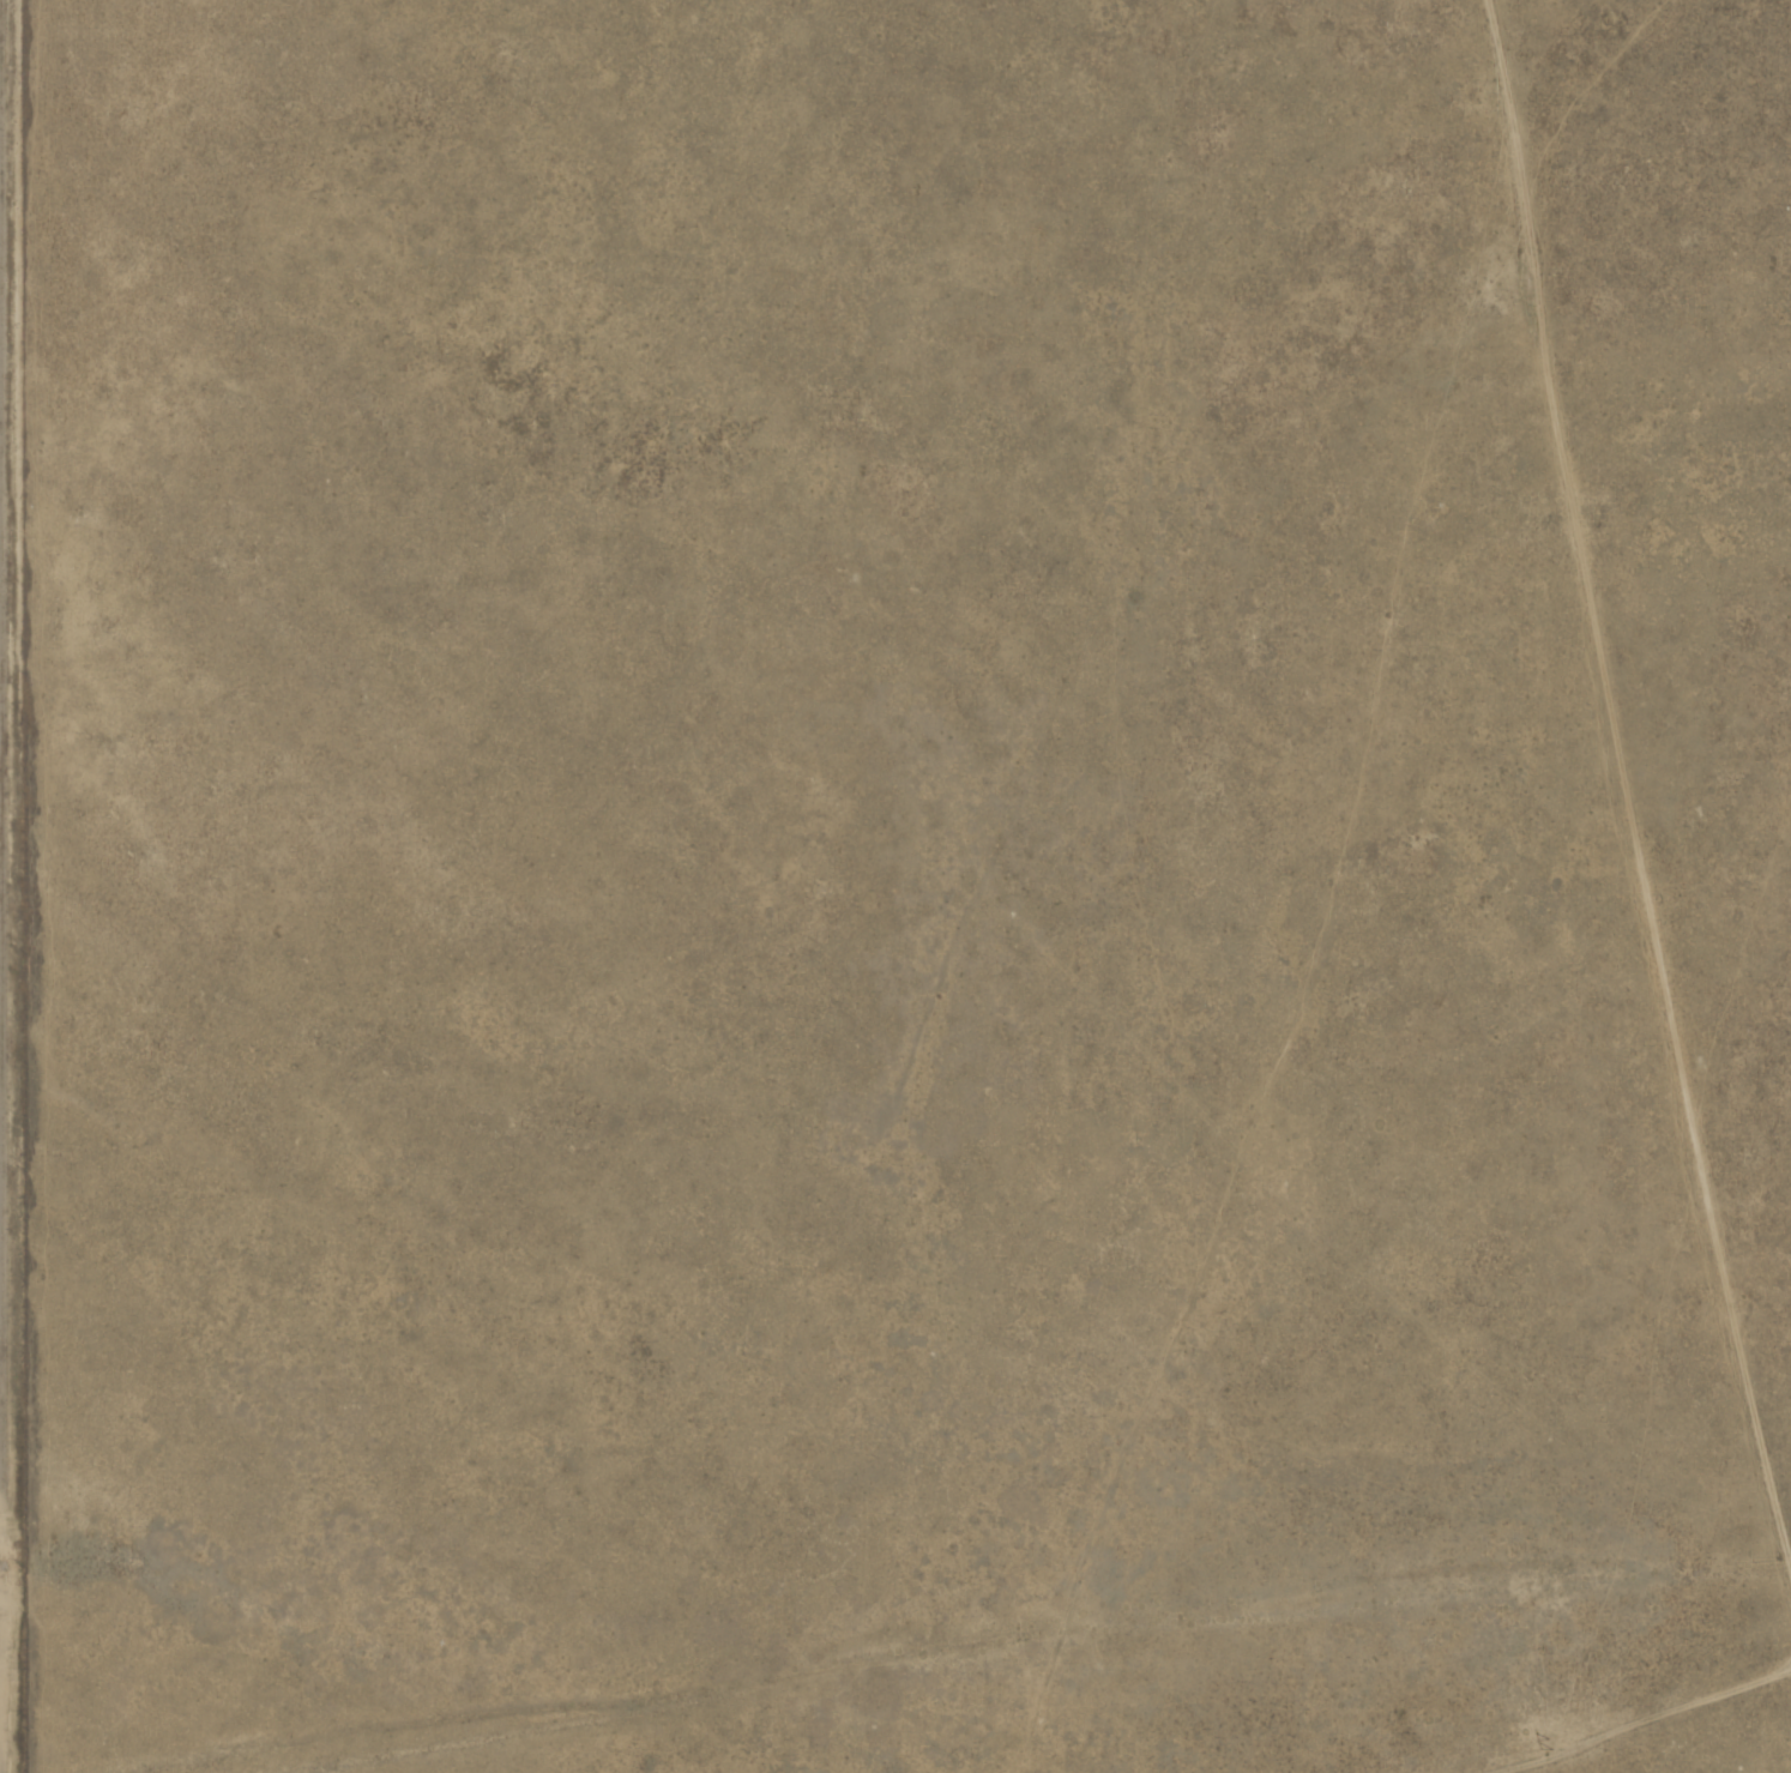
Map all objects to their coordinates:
power tower: (1551, 1743)

